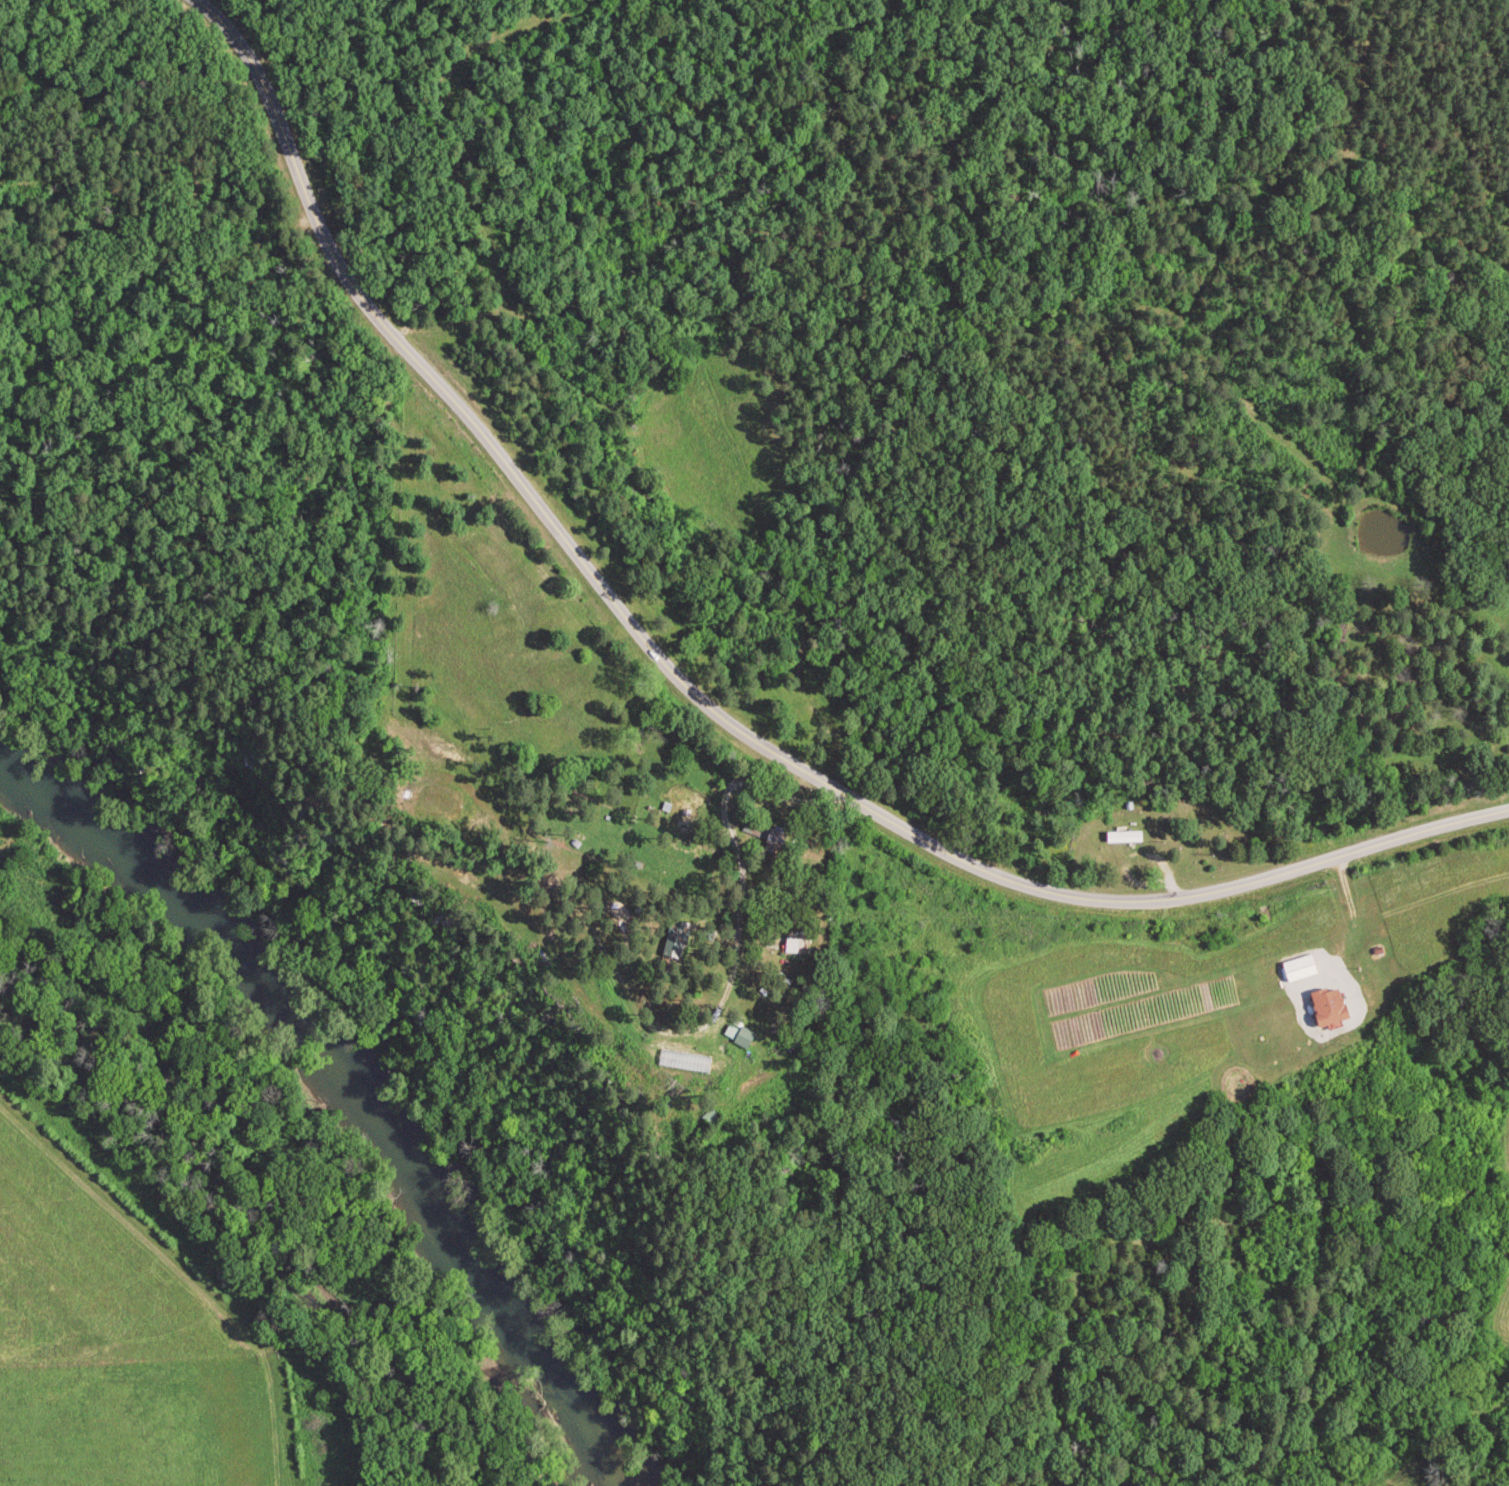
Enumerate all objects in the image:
road: (457, 414)
building: (1128, 836)
road: (1421, 886)
road: (1151, 897)
road: (1345, 934)
building: (798, 945)
building: (1303, 968)
building: (1336, 1006)
road: (713, 1011)
building: (743, 1035)
river: (350, 1082)

